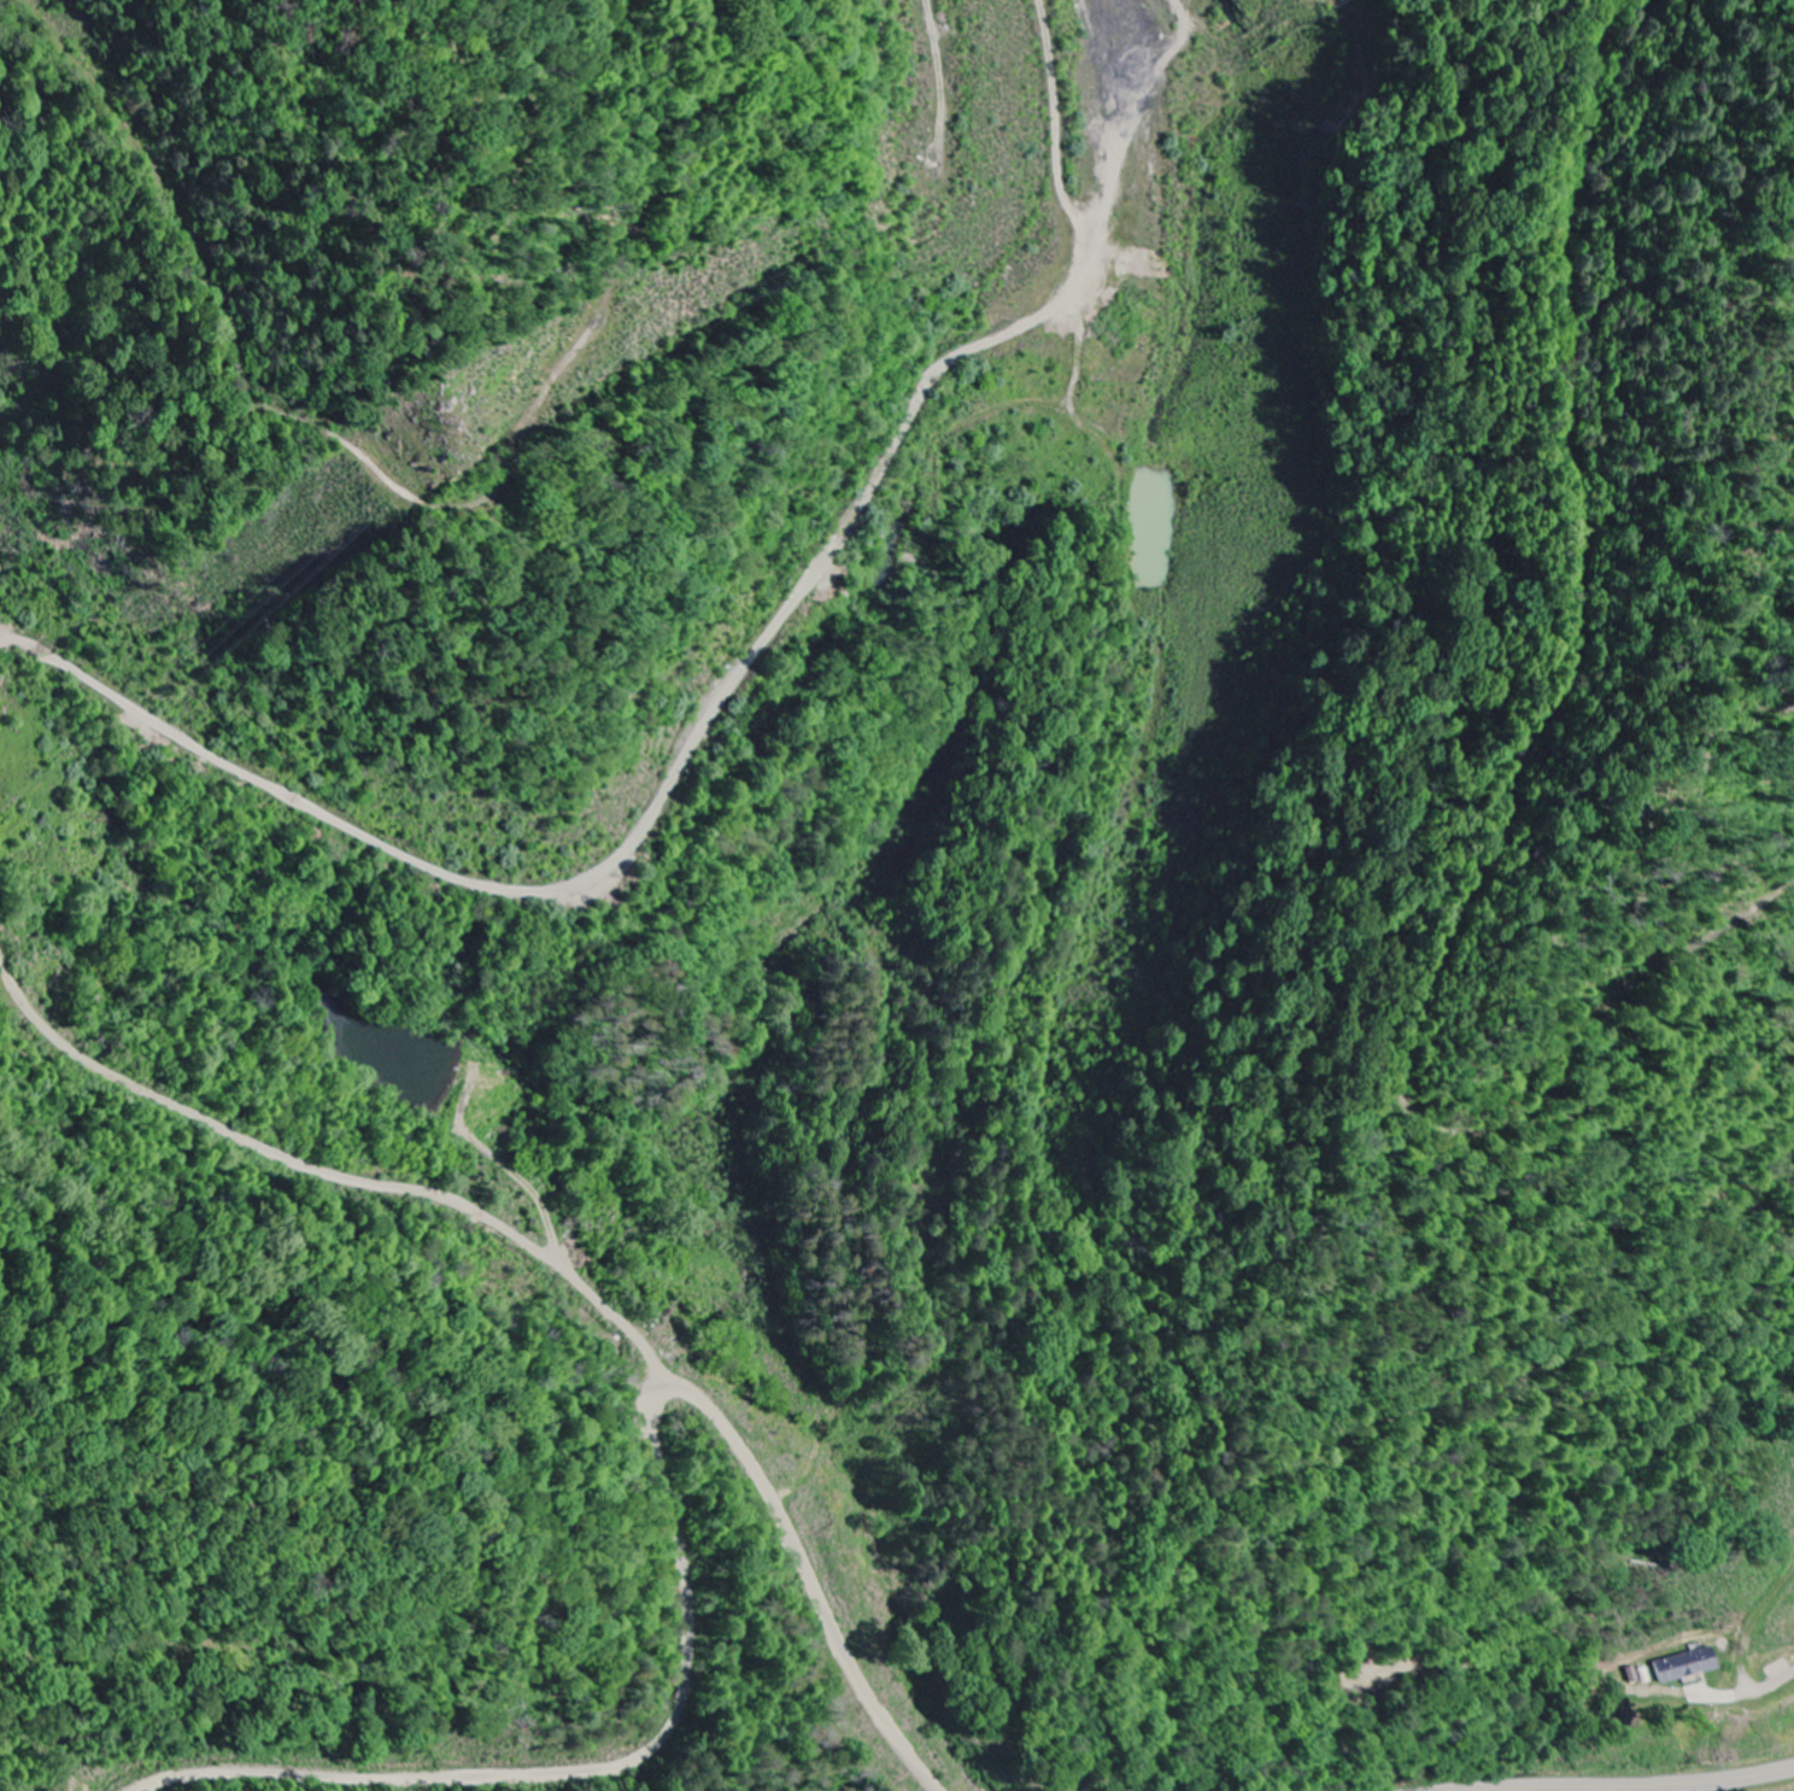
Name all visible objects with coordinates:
building: (1687, 1666)
road: (1734, 1687)
road: (1626, 1786)

